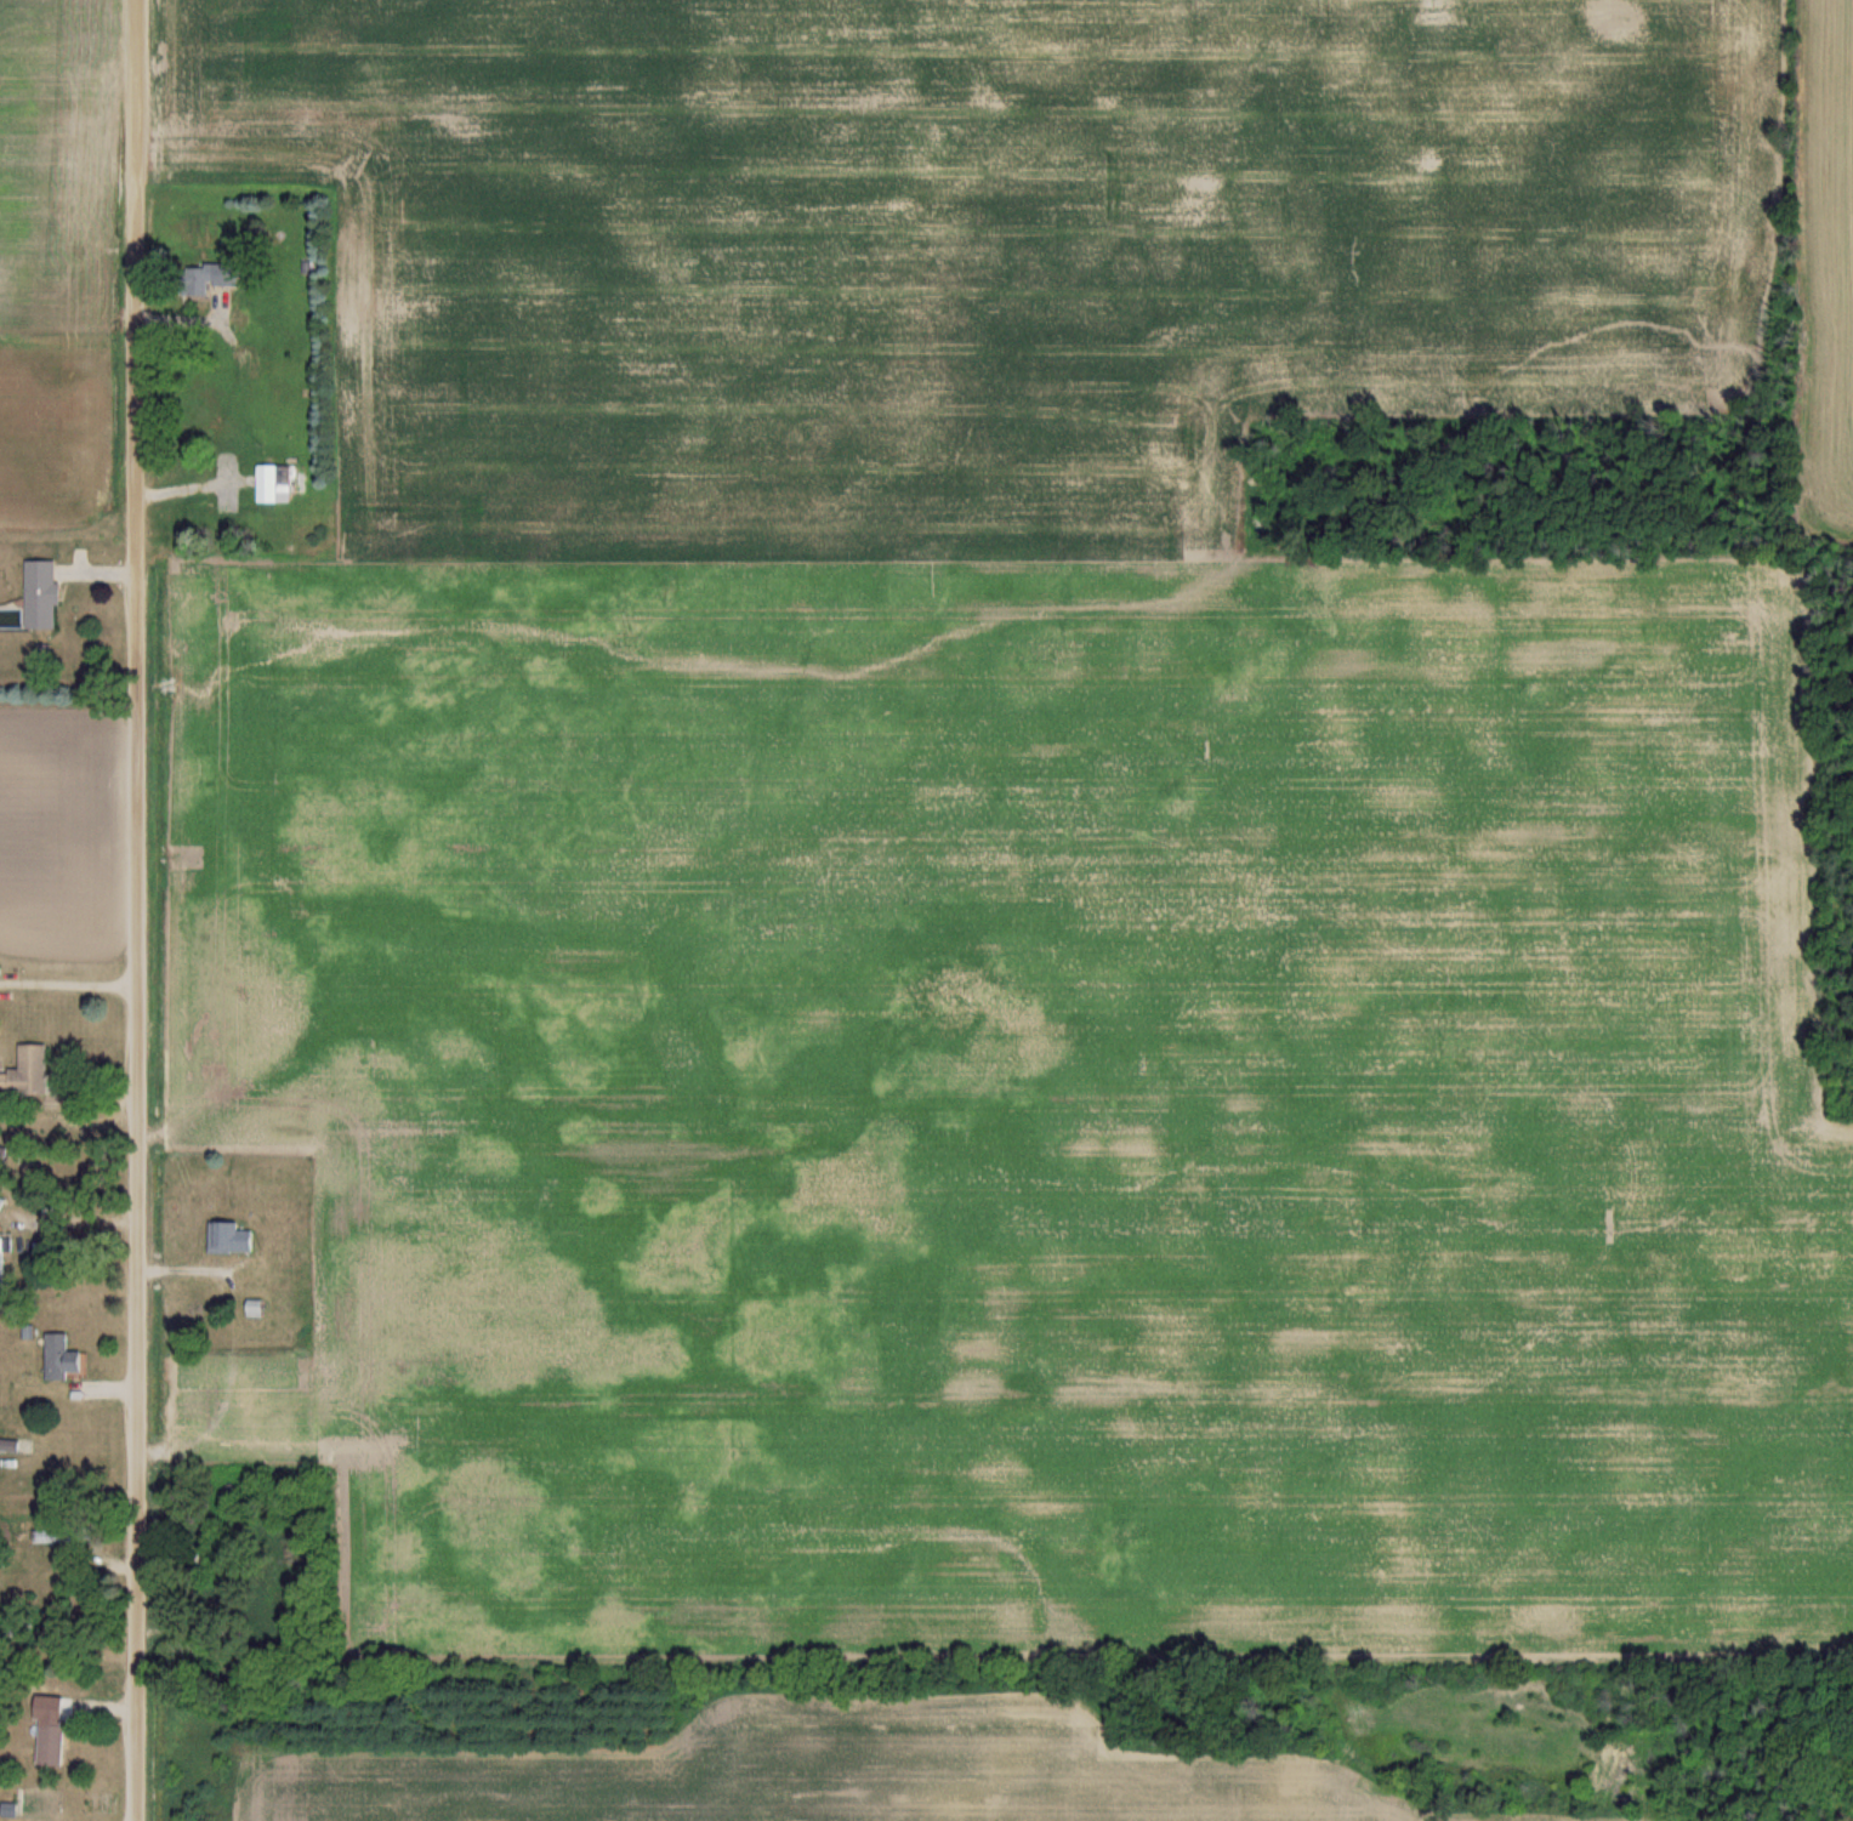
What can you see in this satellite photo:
building: (216, 273)
building: (274, 480)
building: (45, 593)
road: (140, 910)
road: (69, 981)
building: (33, 1070)
building: (4, 1253)
building: (260, 1308)
building: (64, 1358)
building: (59, 1535)
building: (23, 1626)
building: (55, 1745)

